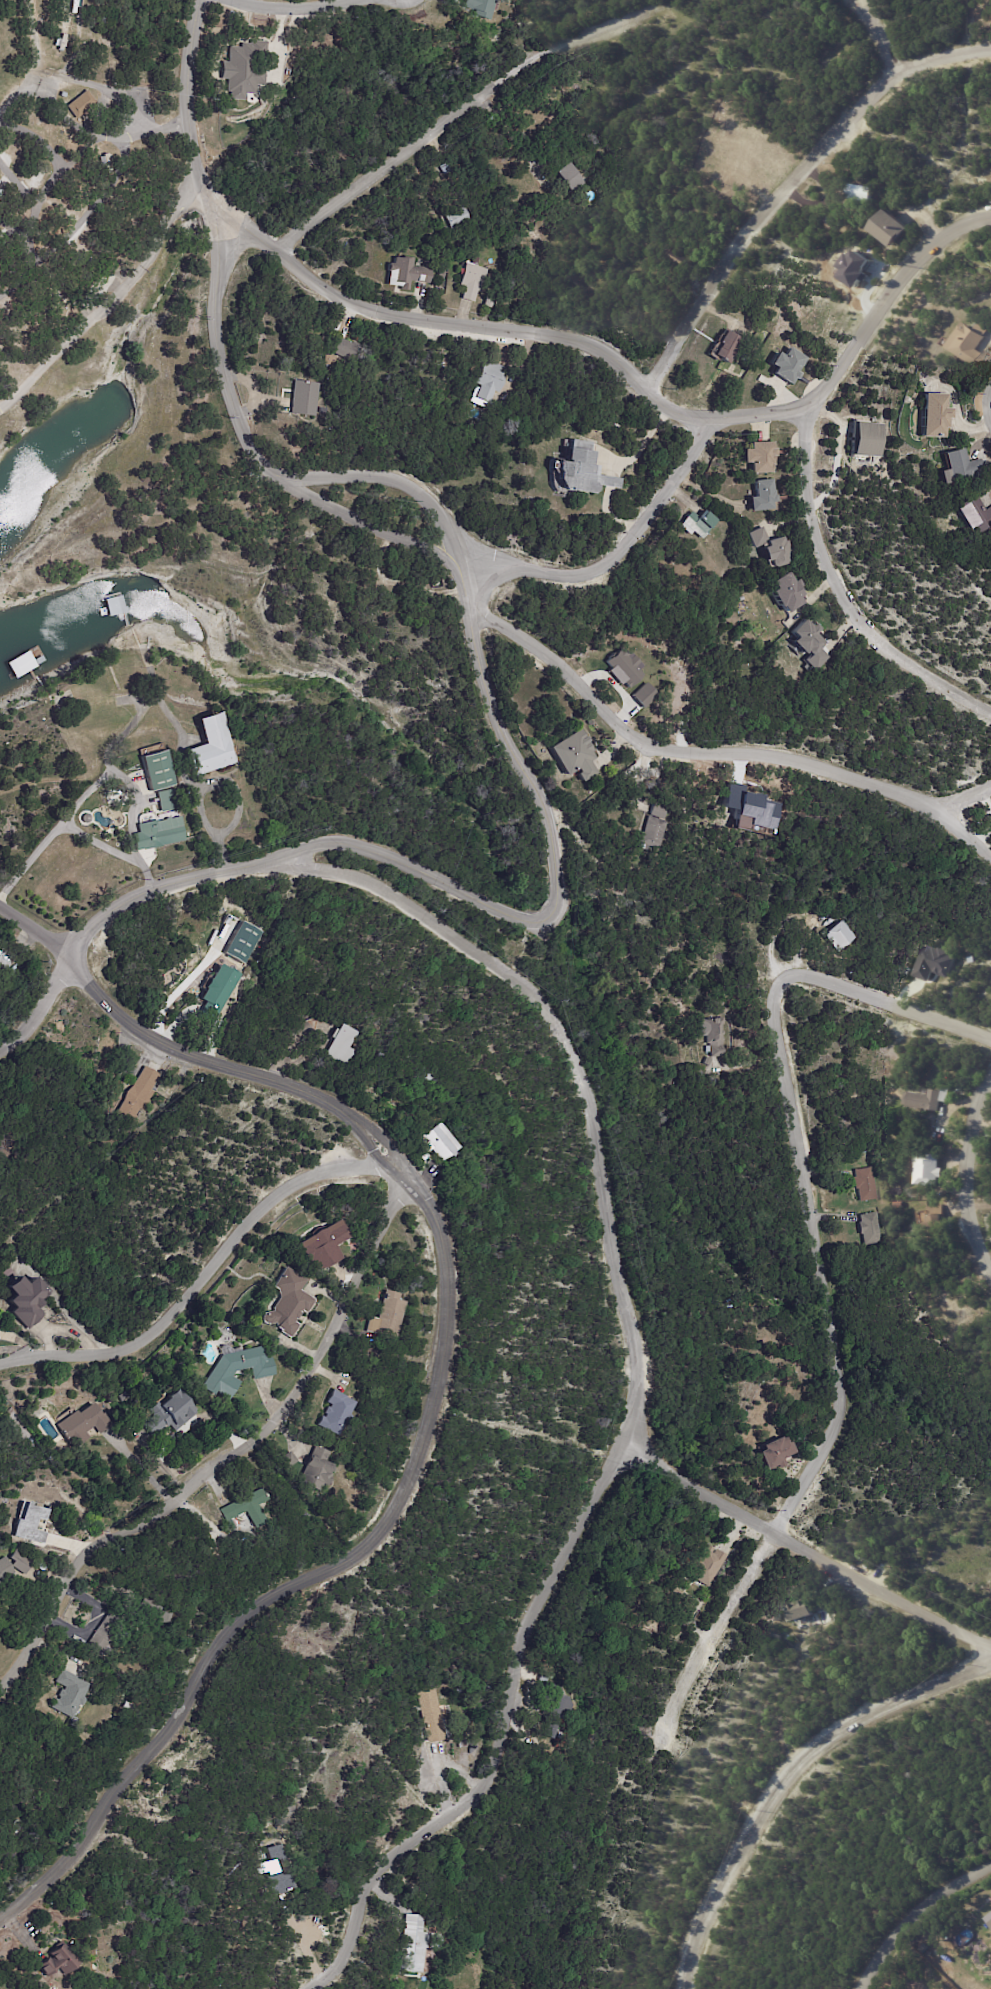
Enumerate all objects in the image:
building: (481, 8)
road: (295, 9)
road: (864, 31)
building: (243, 71)
road: (96, 86)
building: (63, 94)
building: (82, 106)
road: (188, 117)
road: (442, 139)
building: (573, 177)
road: (794, 180)
building: (867, 192)
building: (457, 217)
building: (831, 220)
road: (166, 221)
building: (894, 227)
building: (680, 256)
building: (407, 273)
building: (473, 280)
building: (490, 301)
road: (83, 327)
building: (973, 342)
building: (729, 346)
building: (345, 348)
road: (220, 363)
building: (790, 365)
building: (492, 380)
road: (638, 382)
road: (12, 398)
building: (307, 398)
building: (935, 415)
road: (989, 418)
building: (872, 441)
building: (762, 457)
building: (961, 467)
building: (584, 470)
road: (397, 480)
building: (763, 496)
building: (976, 516)
building: (700, 524)
road: (375, 527)
building: (773, 548)
road: (620, 549)
building: (787, 593)
road: (845, 594)
building: (809, 637)
building: (623, 667)
building: (643, 695)
building: (65, 700)
building: (212, 744)
building: (575, 754)
road: (722, 754)
building: (157, 768)
road: (201, 789)
road: (964, 794)
building: (167, 799)
building: (661, 810)
building: (159, 832)
building: (653, 833)
road: (226, 869)
road: (557, 875)
building: (843, 934)
building: (242, 941)
building: (4, 958)
building: (932, 962)
building: (222, 990)
building: (714, 1035)
building: (344, 1044)
road: (186, 1053)
building: (709, 1061)
building: (430, 1079)
building: (375, 1092)
building: (142, 1093)
building: (930, 1099)
building: (439, 1142)
building: (933, 1168)
road: (969, 1182)
building: (865, 1184)
road: (602, 1191)
road: (978, 1205)
building: (936, 1218)
building: (872, 1228)
building: (323, 1246)
road: (827, 1267)
road: (204, 1276)
building: (28, 1300)
building: (288, 1302)
building: (386, 1316)
building: (238, 1370)
building: (171, 1413)
building: (337, 1413)
building: (83, 1424)
building: (1, 1428)
road: (236, 1446)
building: (778, 1452)
building: (287, 1461)
building: (317, 1471)
building: (243, 1513)
building: (31, 1525)
road: (799, 1546)
building: (20, 1562)
building: (709, 1563)
building: (4, 1569)
road: (314, 1572)
building: (805, 1609)
building: (145, 1610)
building: (163, 1618)
building: (105, 1632)
building: (70, 1694)
building: (556, 1705)
building: (128, 1707)
building: (435, 1714)
road: (491, 1735)
road: (778, 1773)
building: (269, 1867)
building: (990, 1922)
road: (929, 1926)
building: (417, 1943)
building: (58, 1960)
building: (418, 1983)

